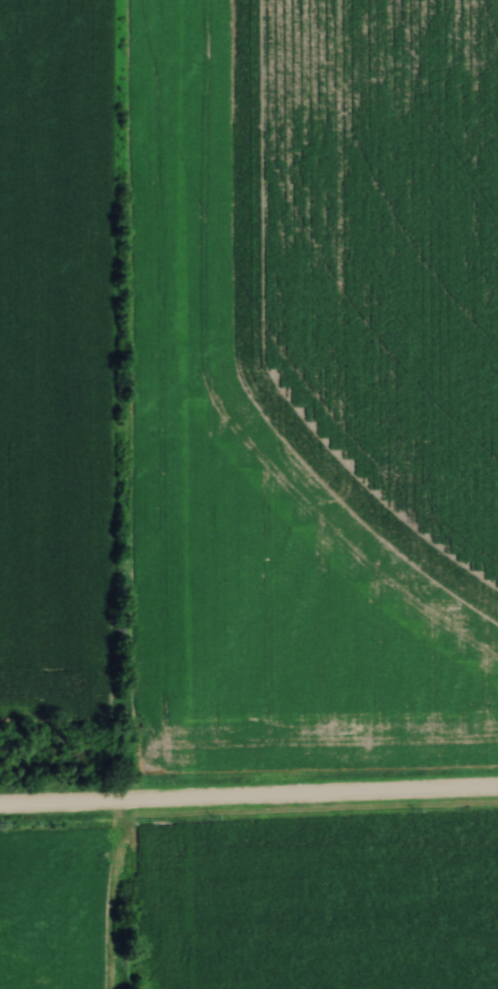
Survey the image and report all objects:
road: (248, 798)

